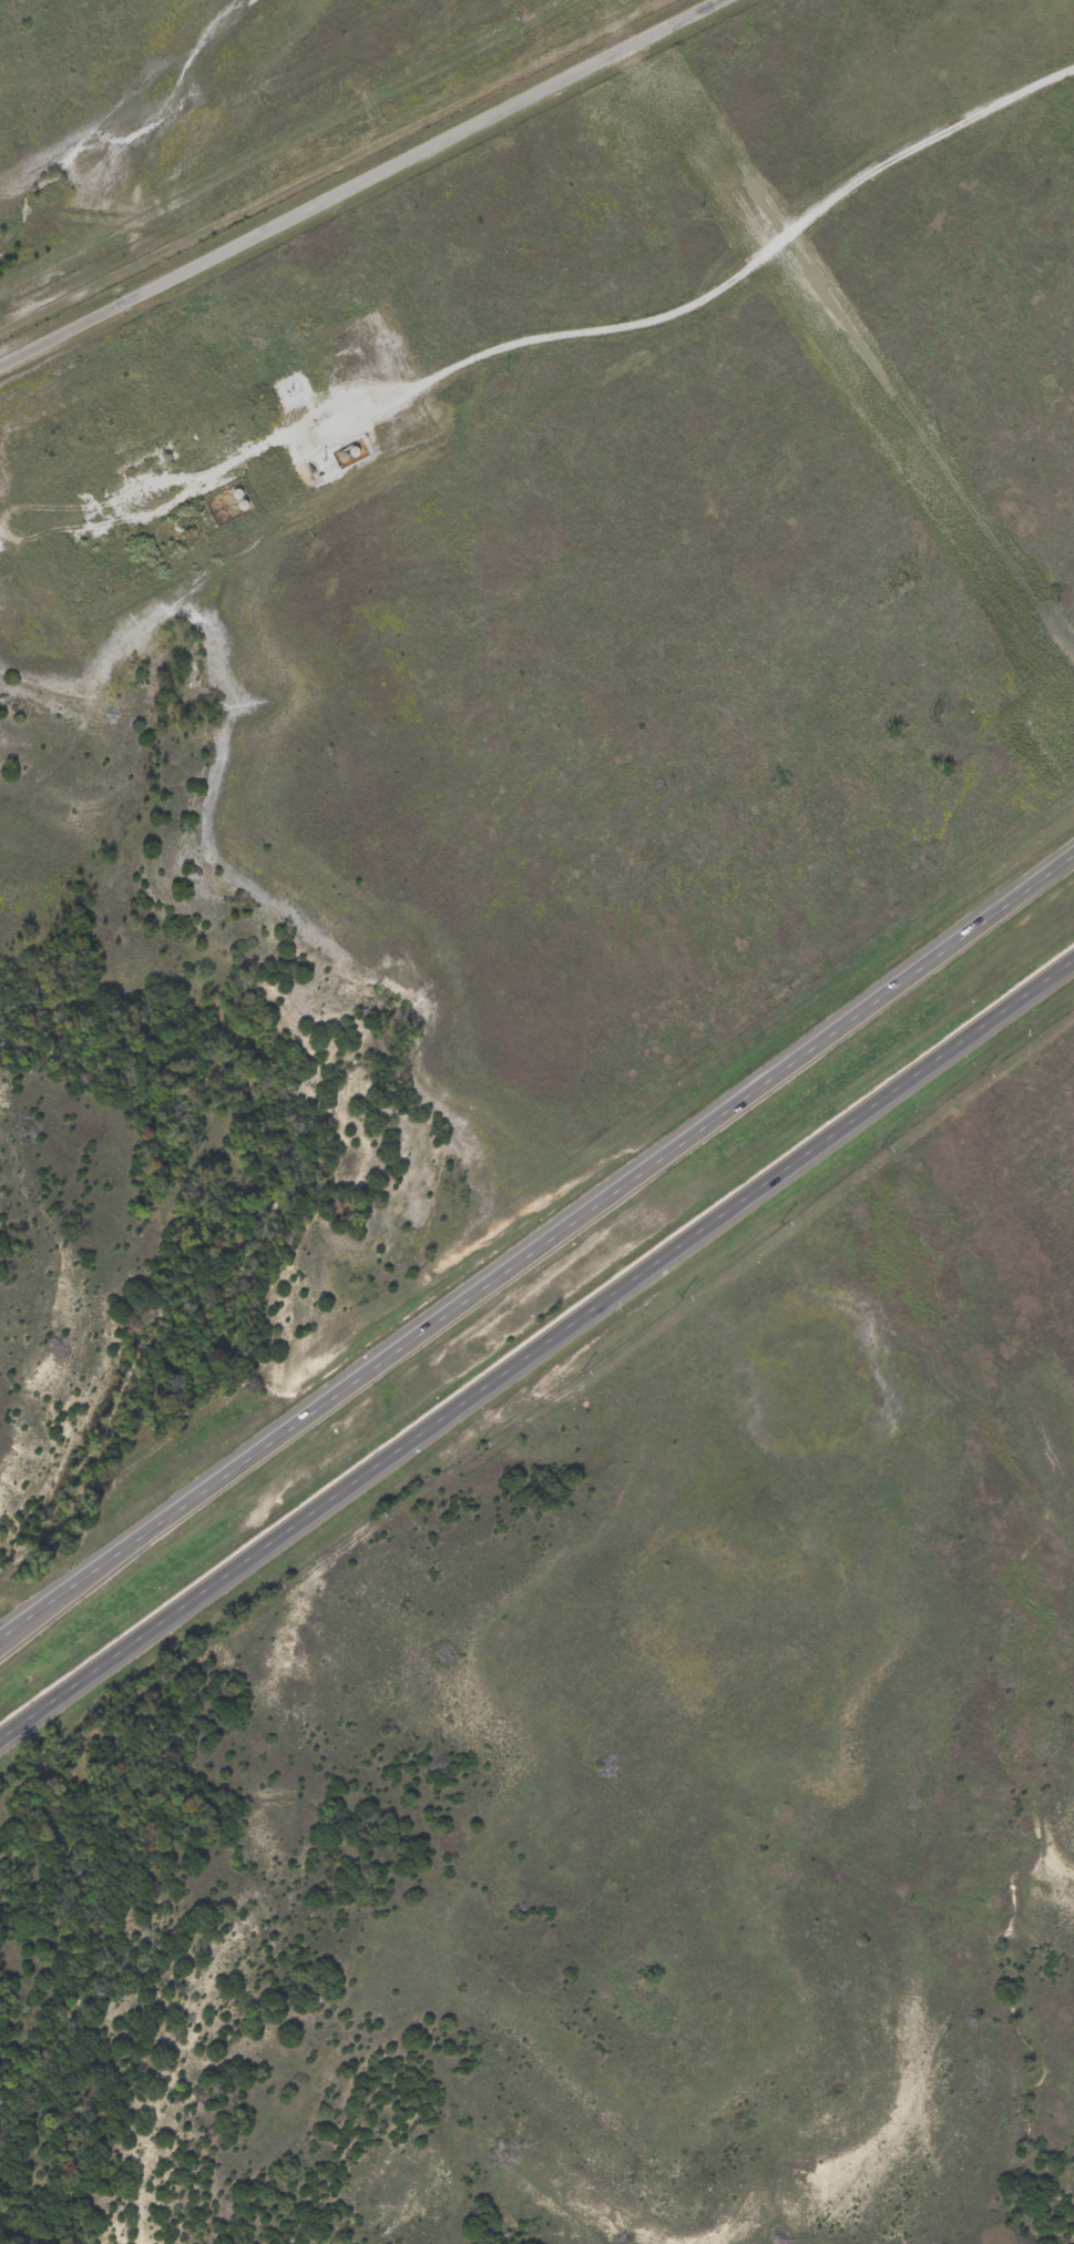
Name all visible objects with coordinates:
road: (456, 58)
road: (354, 180)
road: (597, 330)
road: (538, 1244)
road: (536, 1348)

